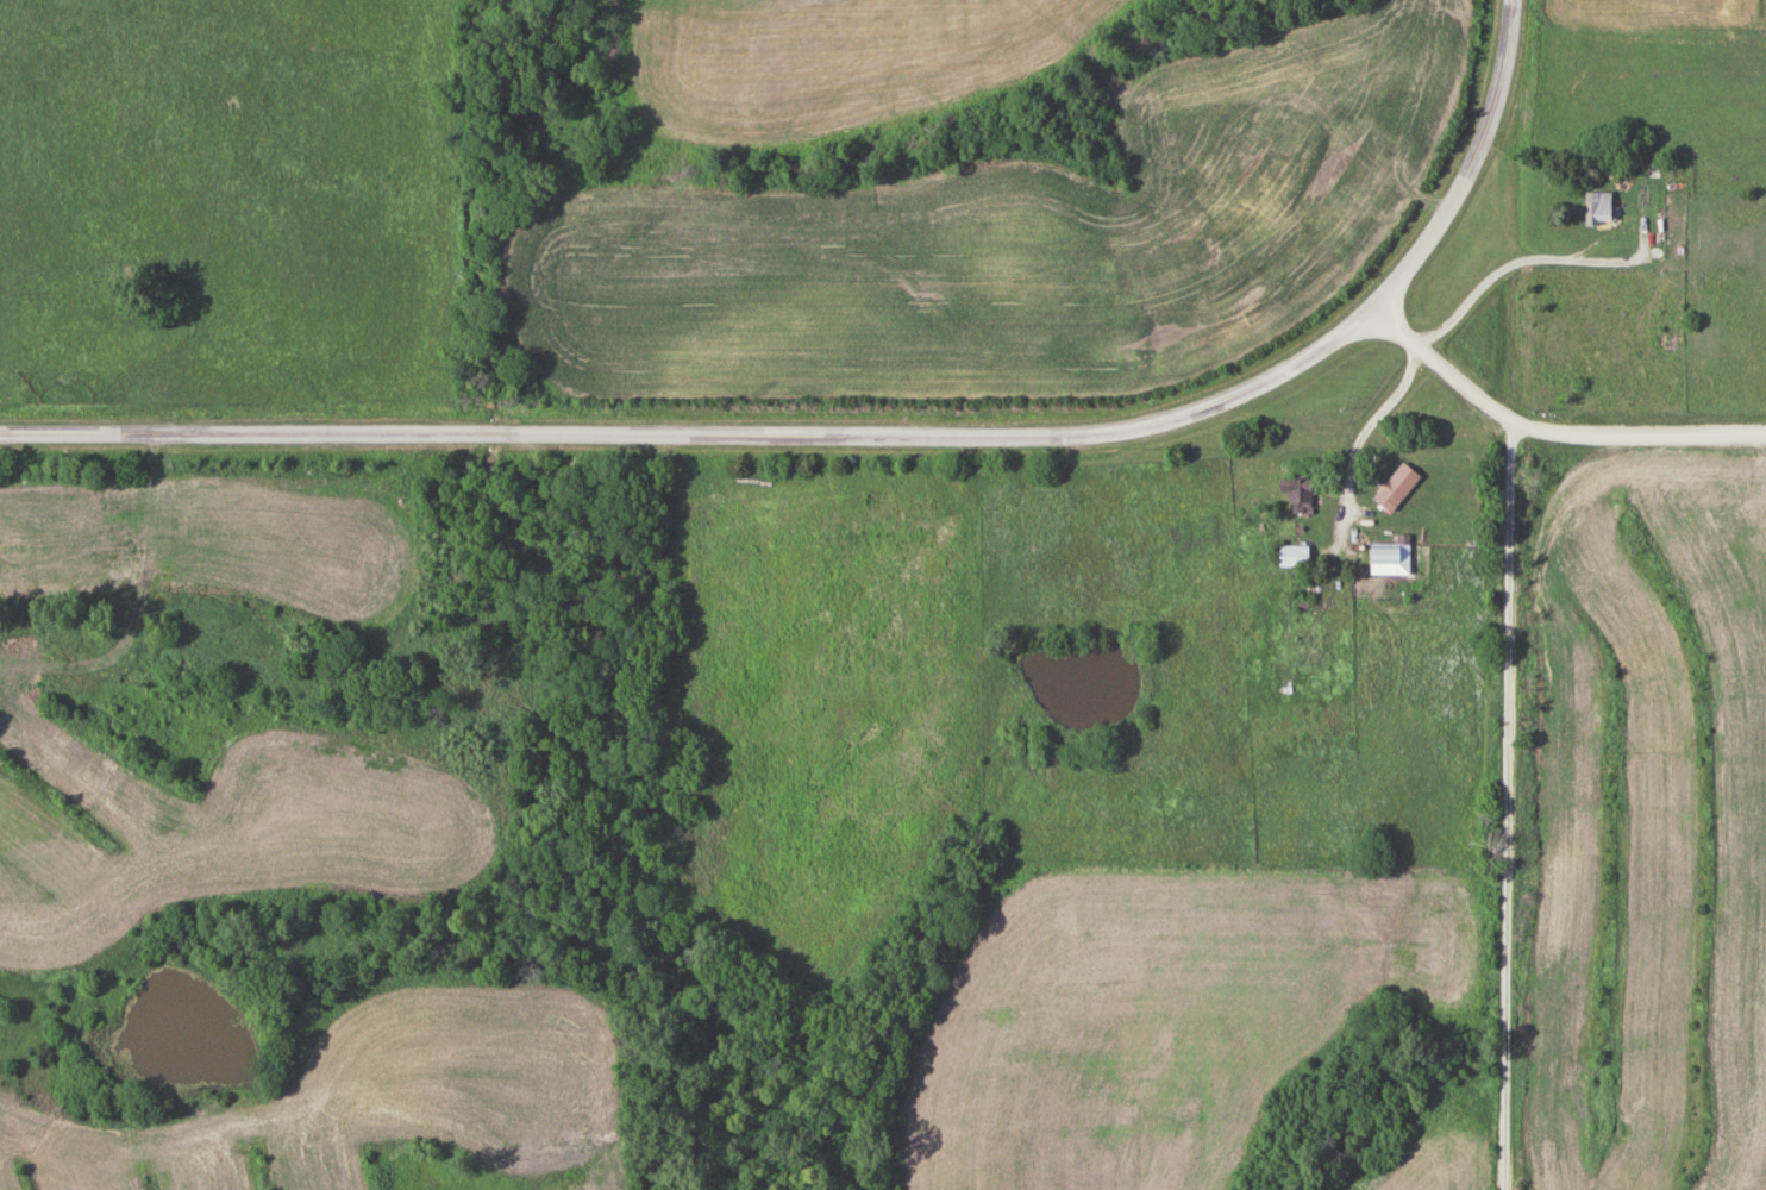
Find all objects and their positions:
road: (1474, 165)
building: (1602, 209)
road: (1449, 326)
road: (1548, 433)
road: (704, 438)
building: (1401, 488)
building: (1302, 496)
building: (1297, 557)
building: (1395, 559)
road: (1511, 806)

